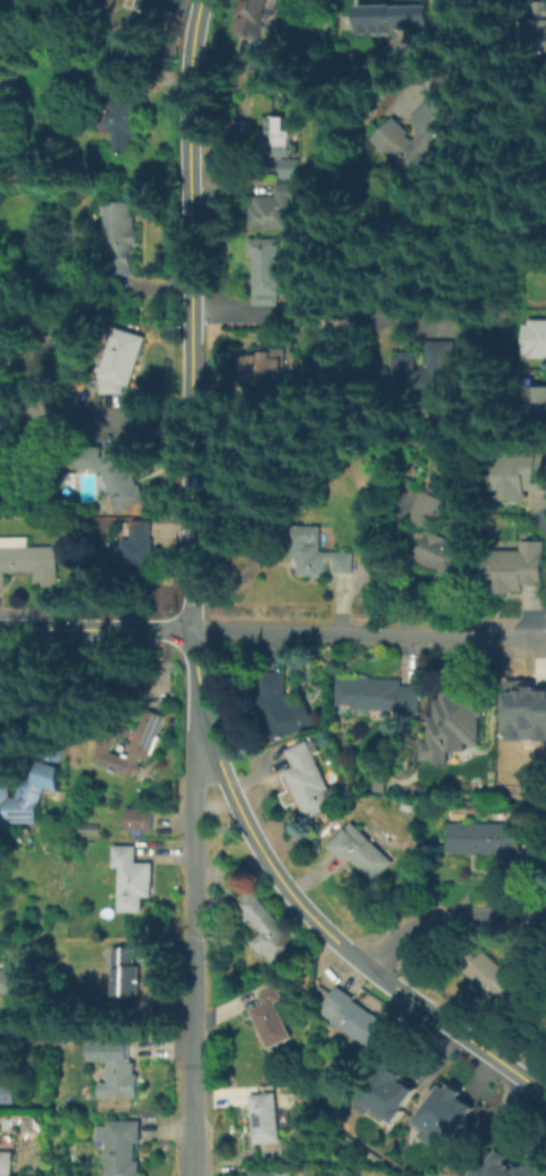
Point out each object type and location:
building: (151, 6)
building: (258, 16)
building: (399, 17)
building: (541, 25)
road: (316, 62)
building: (124, 115)
building: (278, 130)
building: (425, 133)
building: (294, 169)
building: (276, 209)
building: (127, 239)
building: (269, 273)
road: (188, 314)
road: (344, 317)
building: (536, 340)
building: (125, 359)
building: (445, 365)
building: (264, 371)
building: (333, 371)
building: (108, 386)
building: (536, 408)
road: (117, 420)
building: (94, 458)
building: (124, 476)
building: (519, 478)
building: (431, 509)
road: (541, 519)
building: (140, 554)
building: (318, 554)
building: (446, 561)
building: (28, 562)
building: (516, 571)
road: (544, 626)
road: (94, 628)
road: (368, 633)
building: (13, 696)
building: (380, 697)
building: (282, 710)
building: (524, 713)
building: (450, 724)
building: (130, 747)
building: (309, 782)
building: (28, 796)
building: (141, 823)
building: (488, 843)
building: (364, 853)
building: (134, 882)
road: (301, 908)
road: (446, 917)
building: (266, 930)
road: (194, 956)
building: (128, 973)
building: (7, 983)
building: (497, 983)
building: (358, 1019)
building: (271, 1023)
building: (121, 1071)
building: (7, 1093)
building: (386, 1093)
building: (442, 1113)
building: (268, 1117)
building: (125, 1148)
building: (6, 1164)
building: (509, 1168)
building: (272, 1175)

